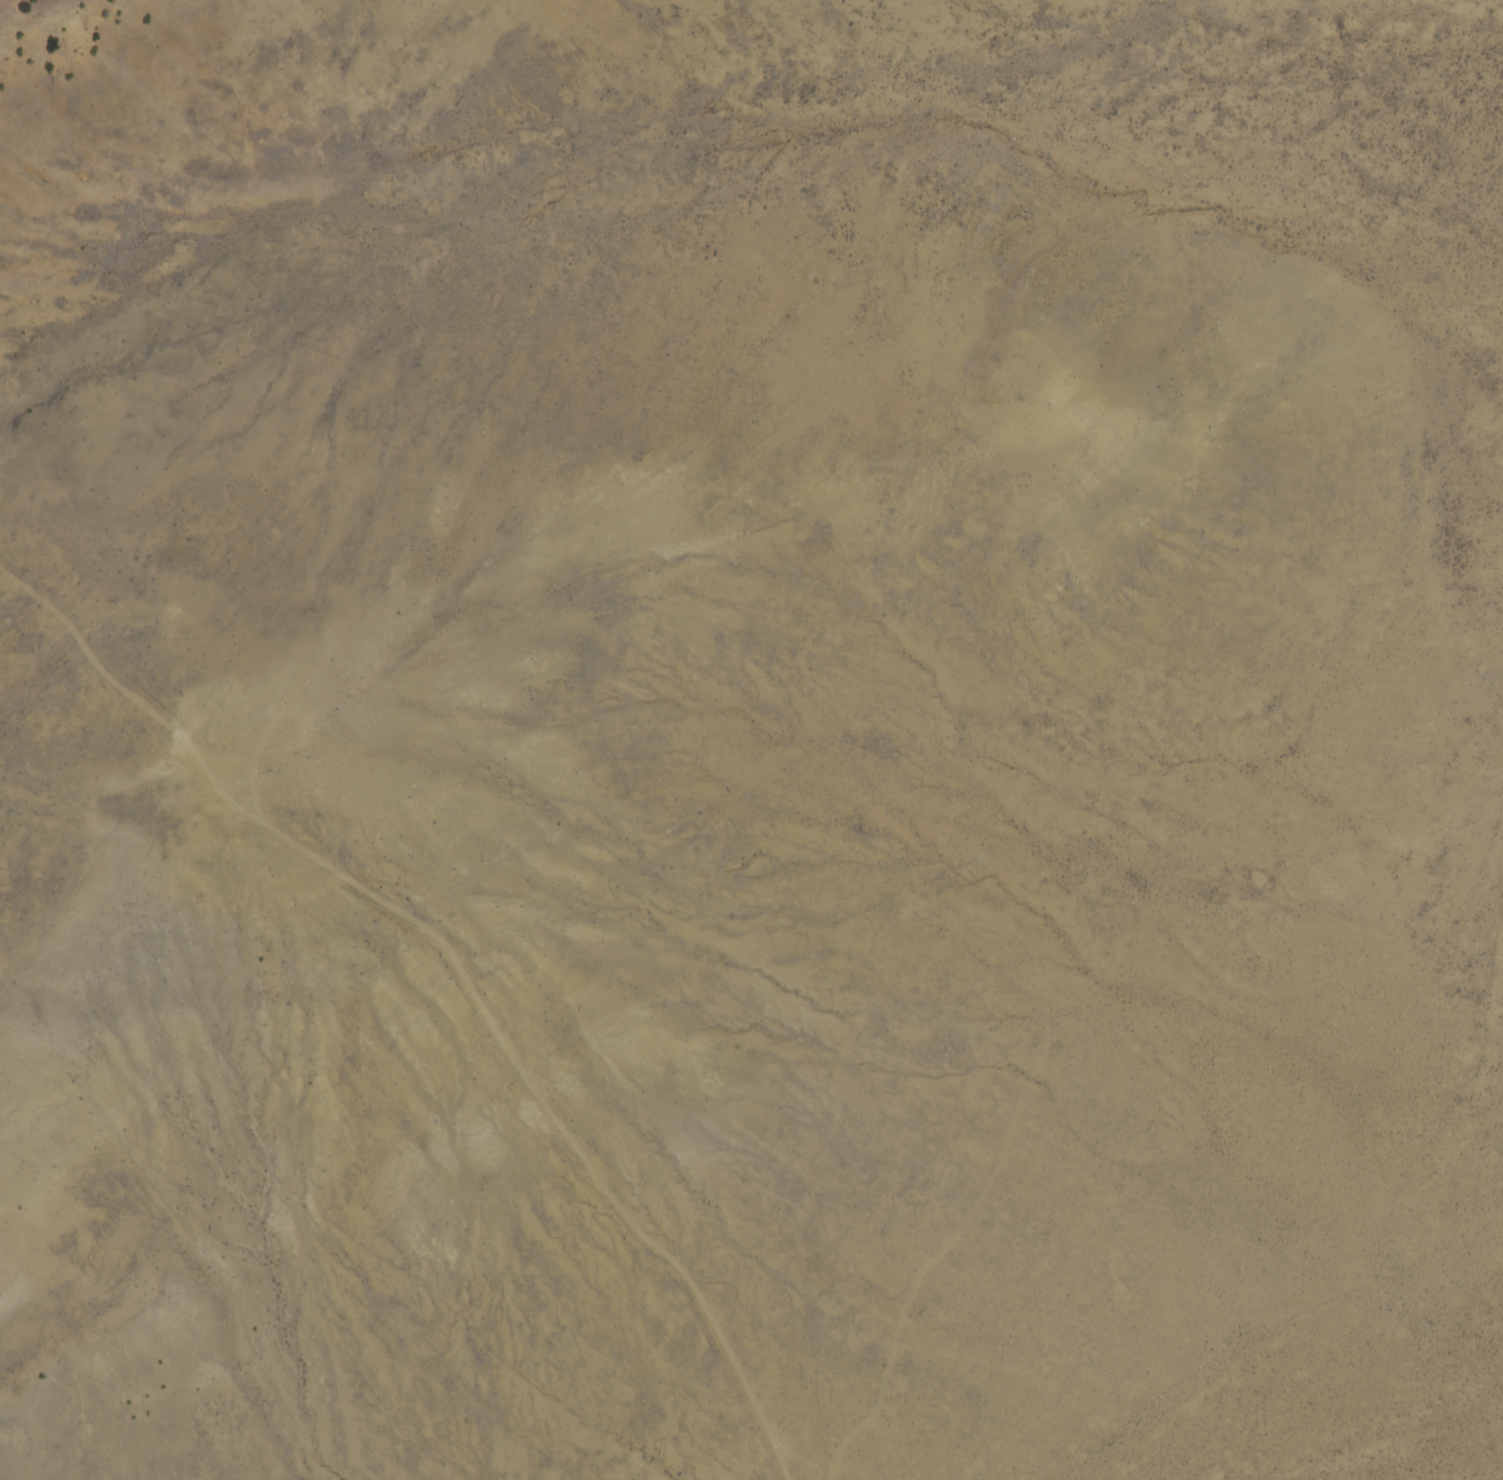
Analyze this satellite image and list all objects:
road: (1348, 33)

